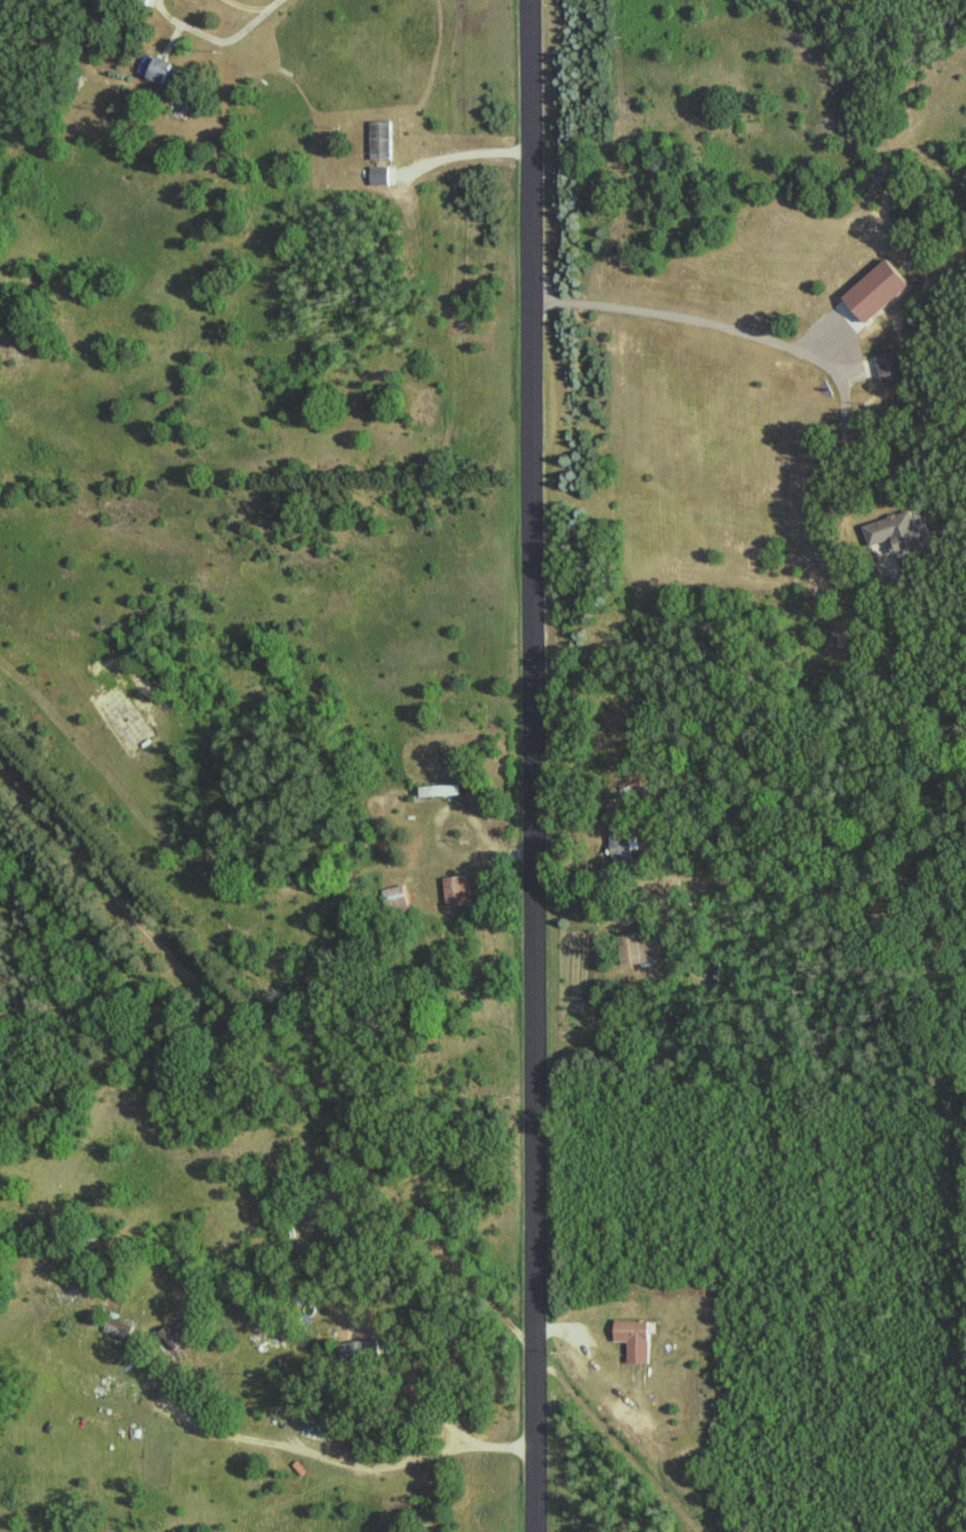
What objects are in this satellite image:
building: (140, 1)
road: (265, 3)
road: (242, 4)
road: (205, 37)
building: (162, 69)
building: (381, 141)
road: (462, 154)
building: (380, 175)
road: (812, 354)
building: (890, 367)
building: (900, 533)
road: (530, 766)
building: (440, 791)
building: (621, 844)
building: (455, 891)
building: (397, 900)
building: (634, 949)
building: (119, 1328)
building: (636, 1338)
building: (360, 1351)
road: (614, 1441)
road: (335, 1463)

